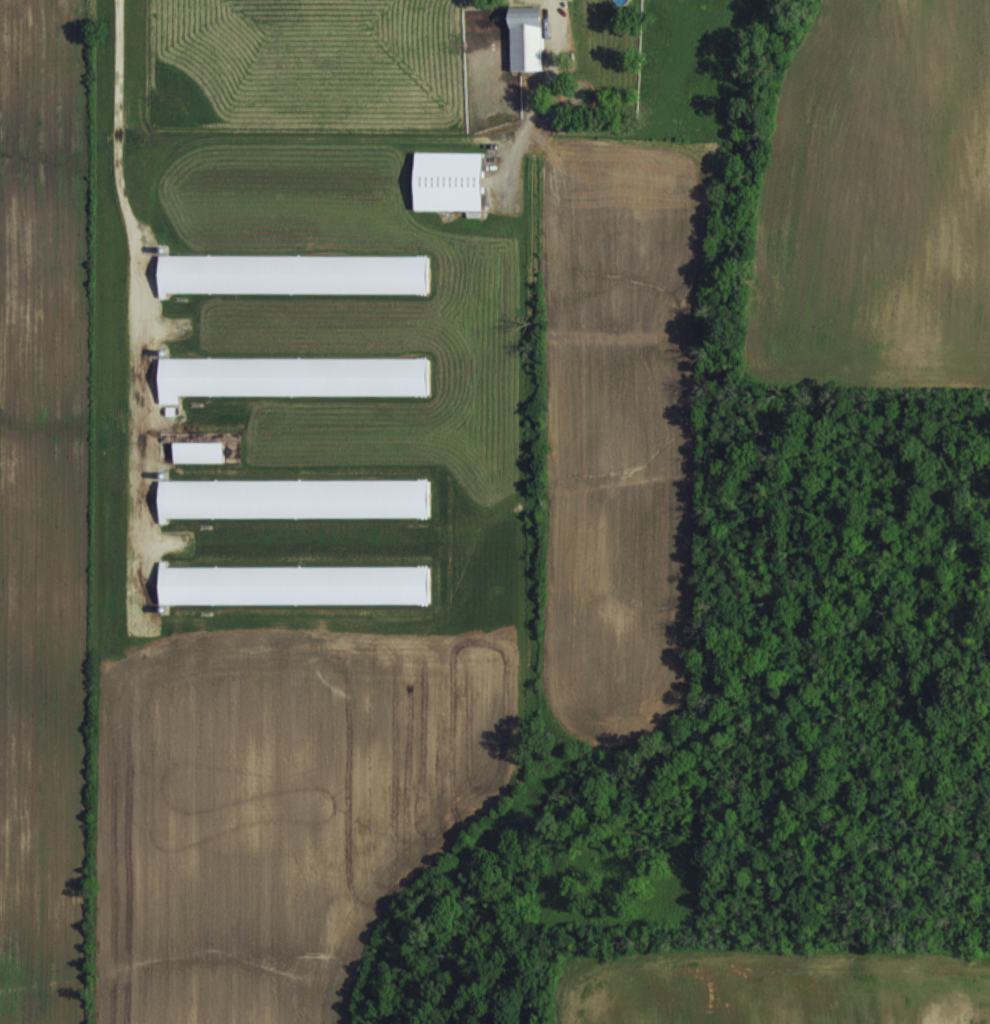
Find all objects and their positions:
building: (524, 35)
road: (540, 92)
building: (446, 178)
building: (290, 272)
road: (143, 292)
building: (289, 374)
building: (196, 450)
building: (291, 497)
building: (291, 583)

